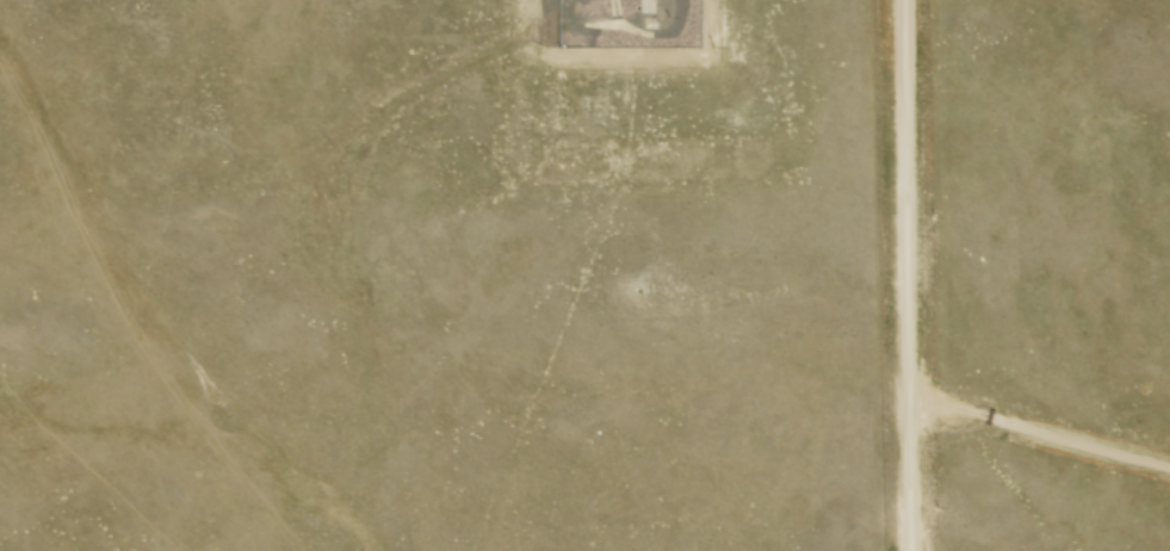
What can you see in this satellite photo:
road: (900, 275)
road: (1035, 438)

